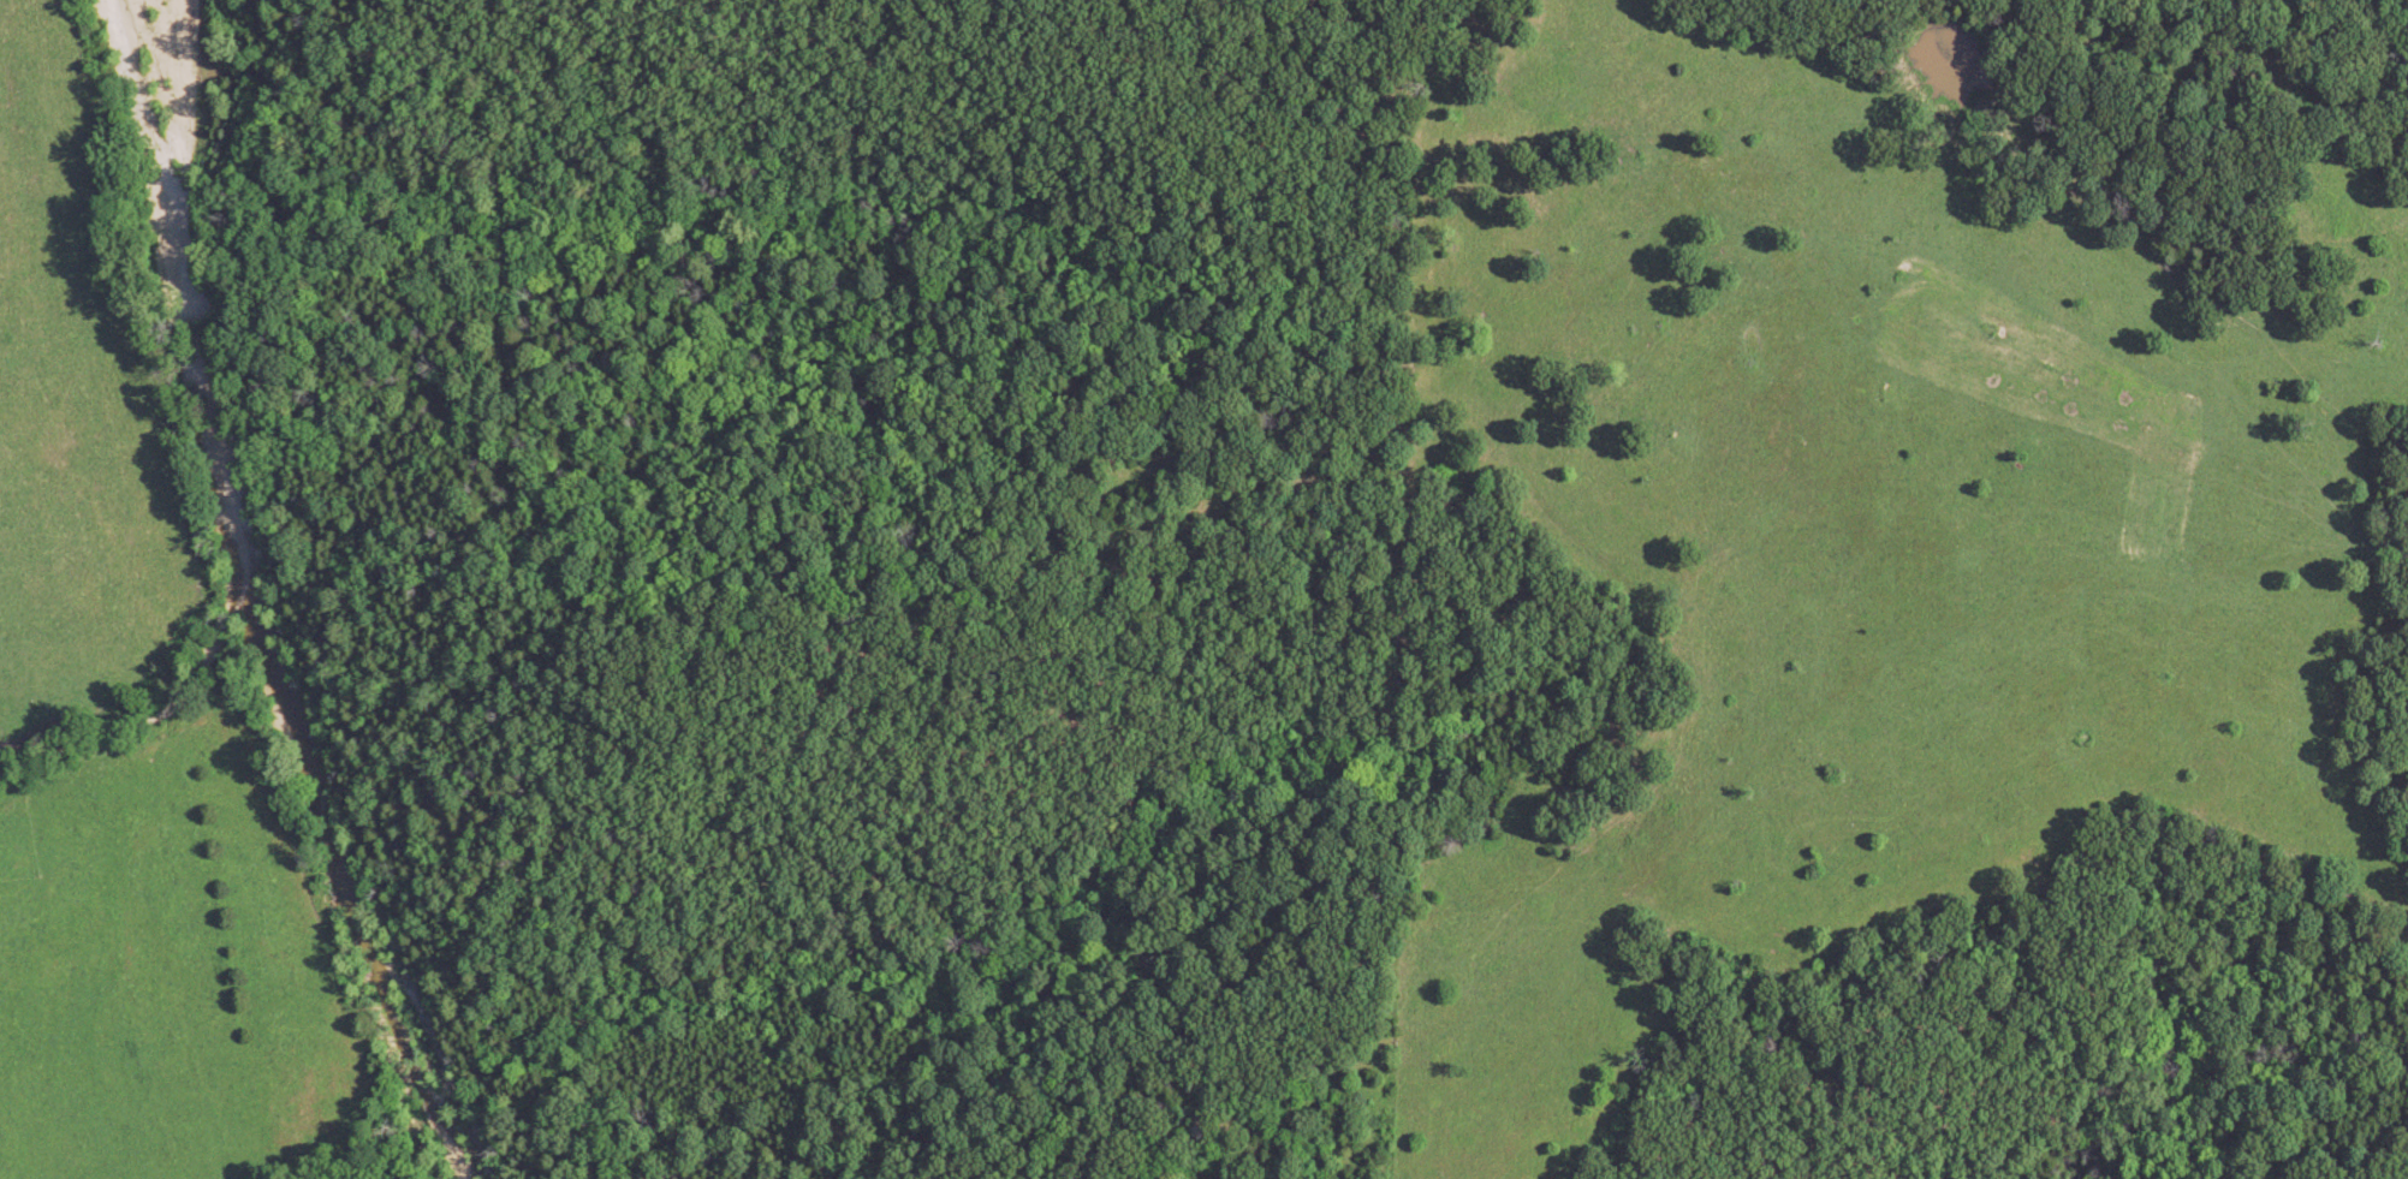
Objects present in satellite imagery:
river: (262, 599)

